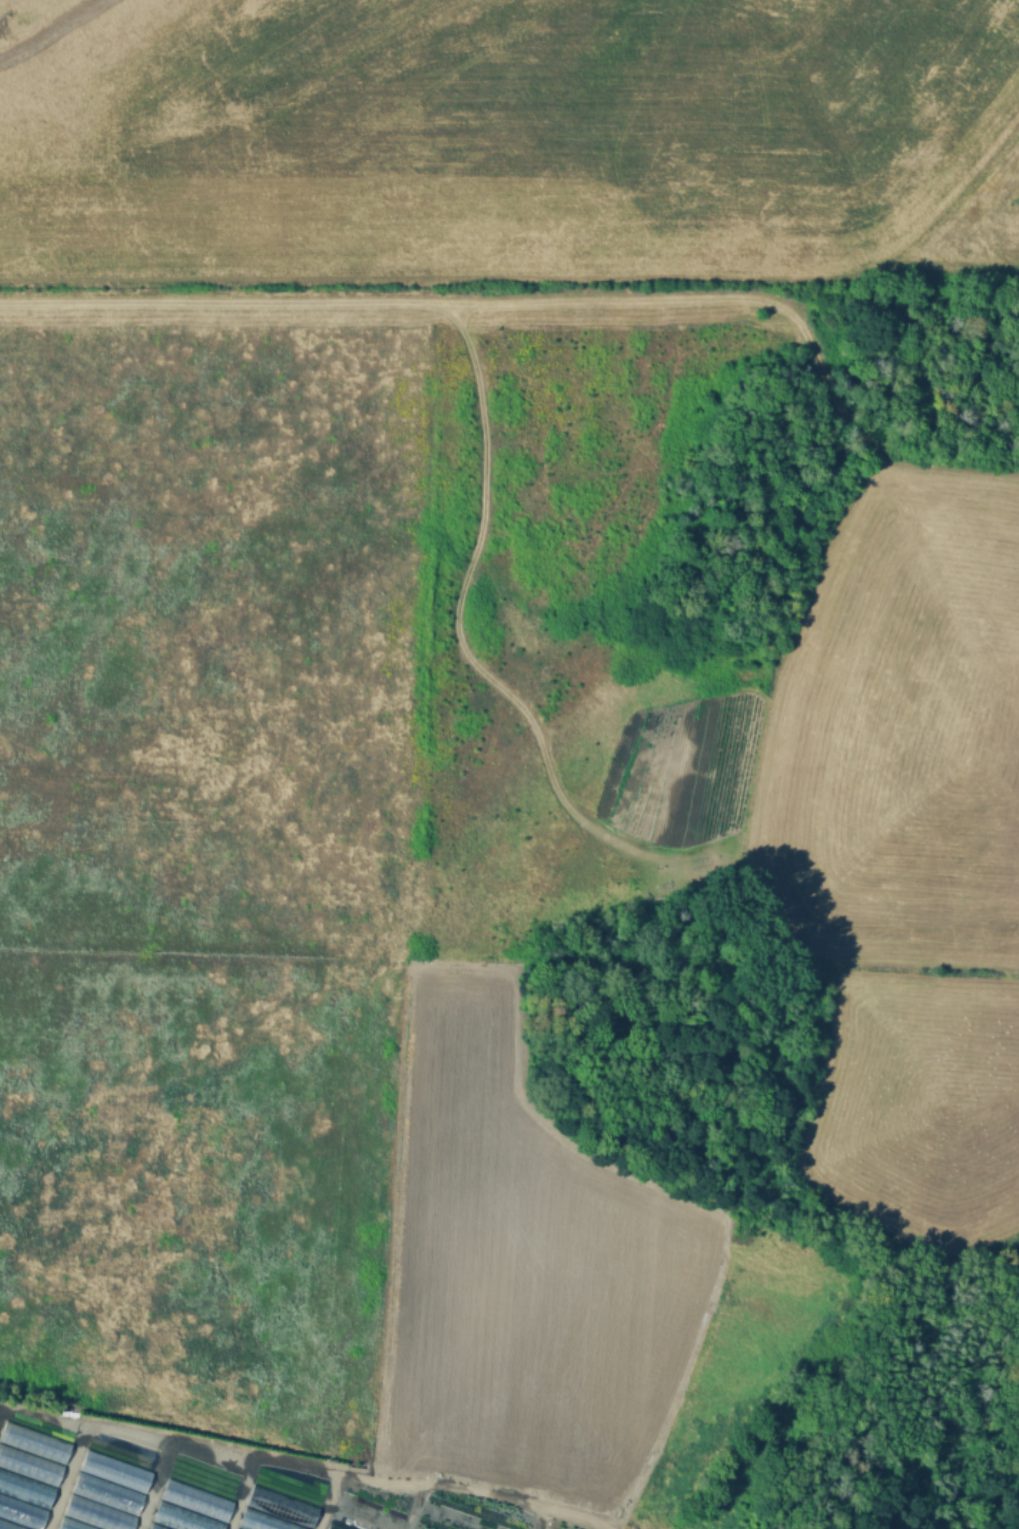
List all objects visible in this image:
road: (560, 300)
crop: (467, 699)
road: (701, 966)
road: (1, 1412)
road: (42, 1418)
building: (34, 1442)
building: (29, 1466)
road: (298, 1467)
building: (114, 1471)
road: (154, 1486)
building: (26, 1490)
building: (106, 1493)
road: (241, 1494)
building: (195, 1500)
road: (329, 1502)
building: (281, 1507)
building: (21, 1513)
building: (97, 1515)
building: (181, 1518)
building: (262, 1521)
building: (71, 1524)
building: (8, 1526)
building: (155, 1527)

